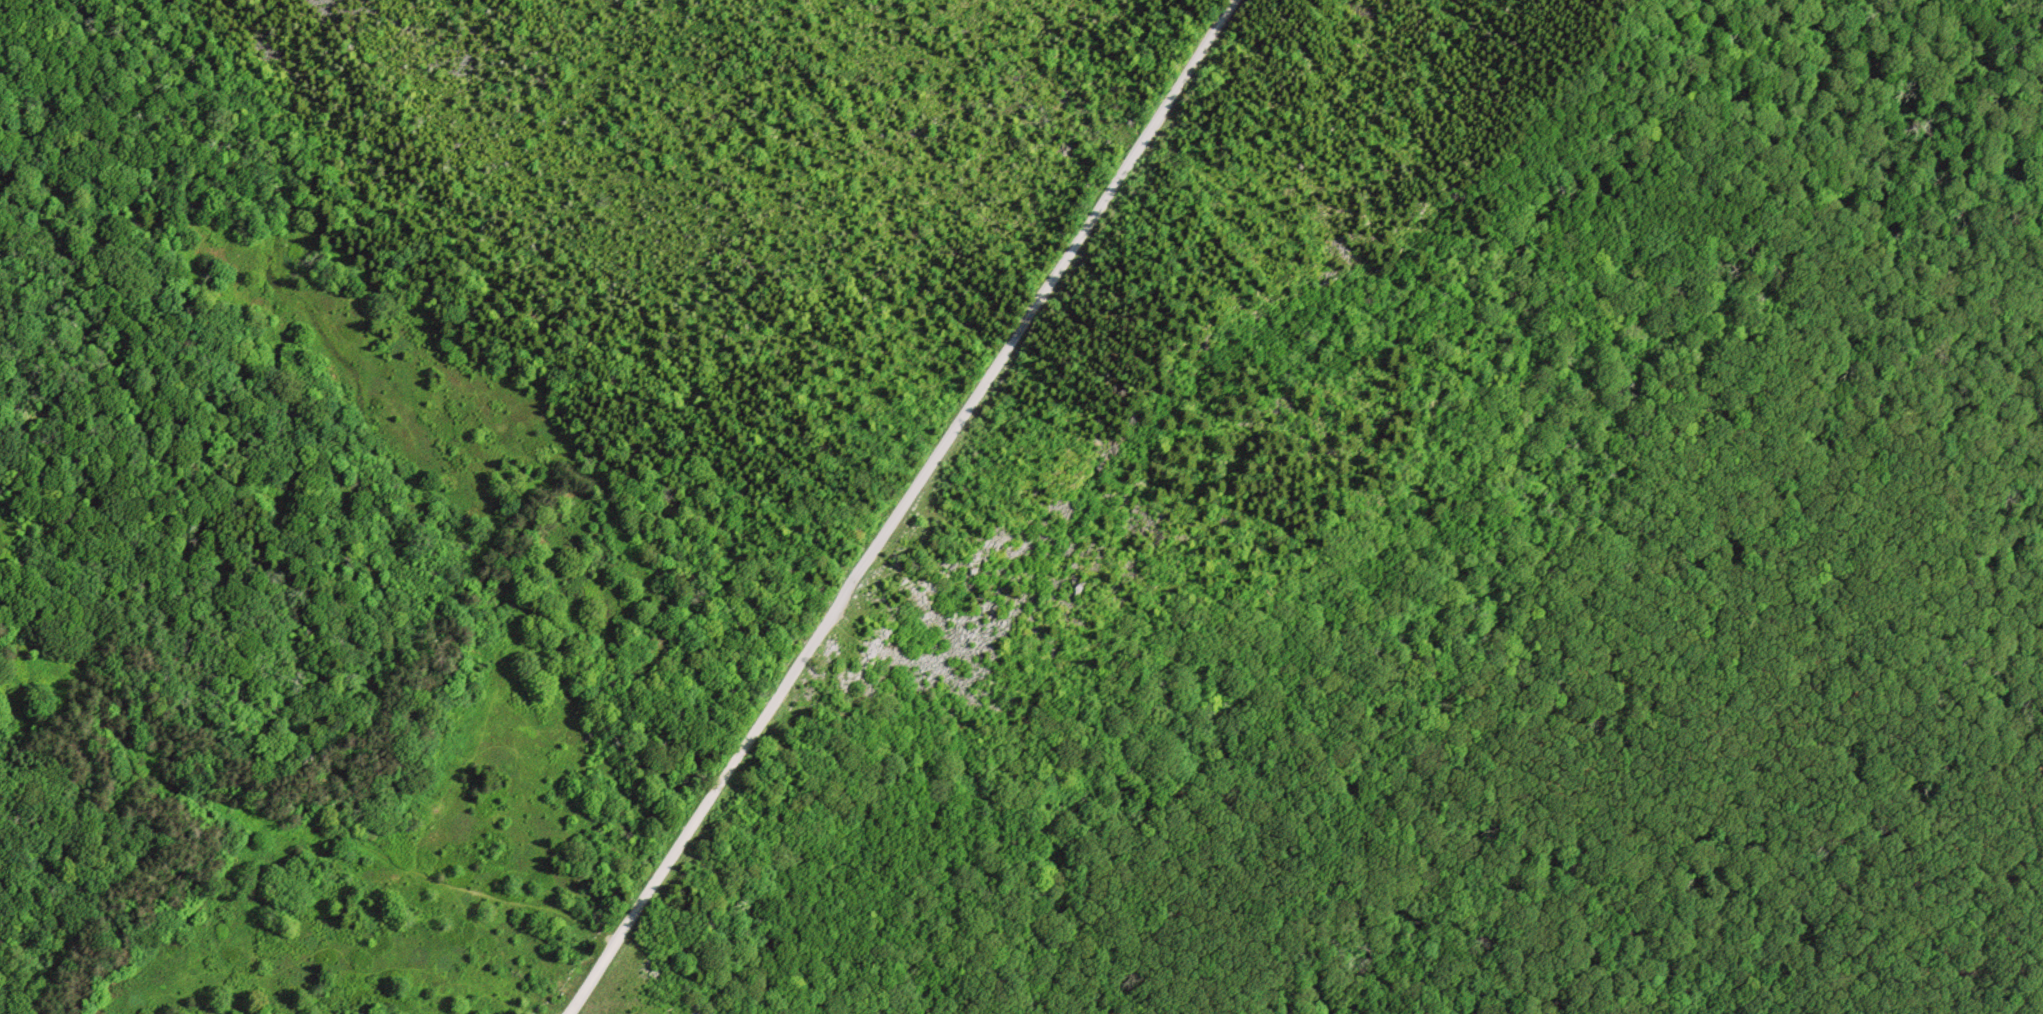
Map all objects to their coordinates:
road: (903, 507)
road: (299, 830)

